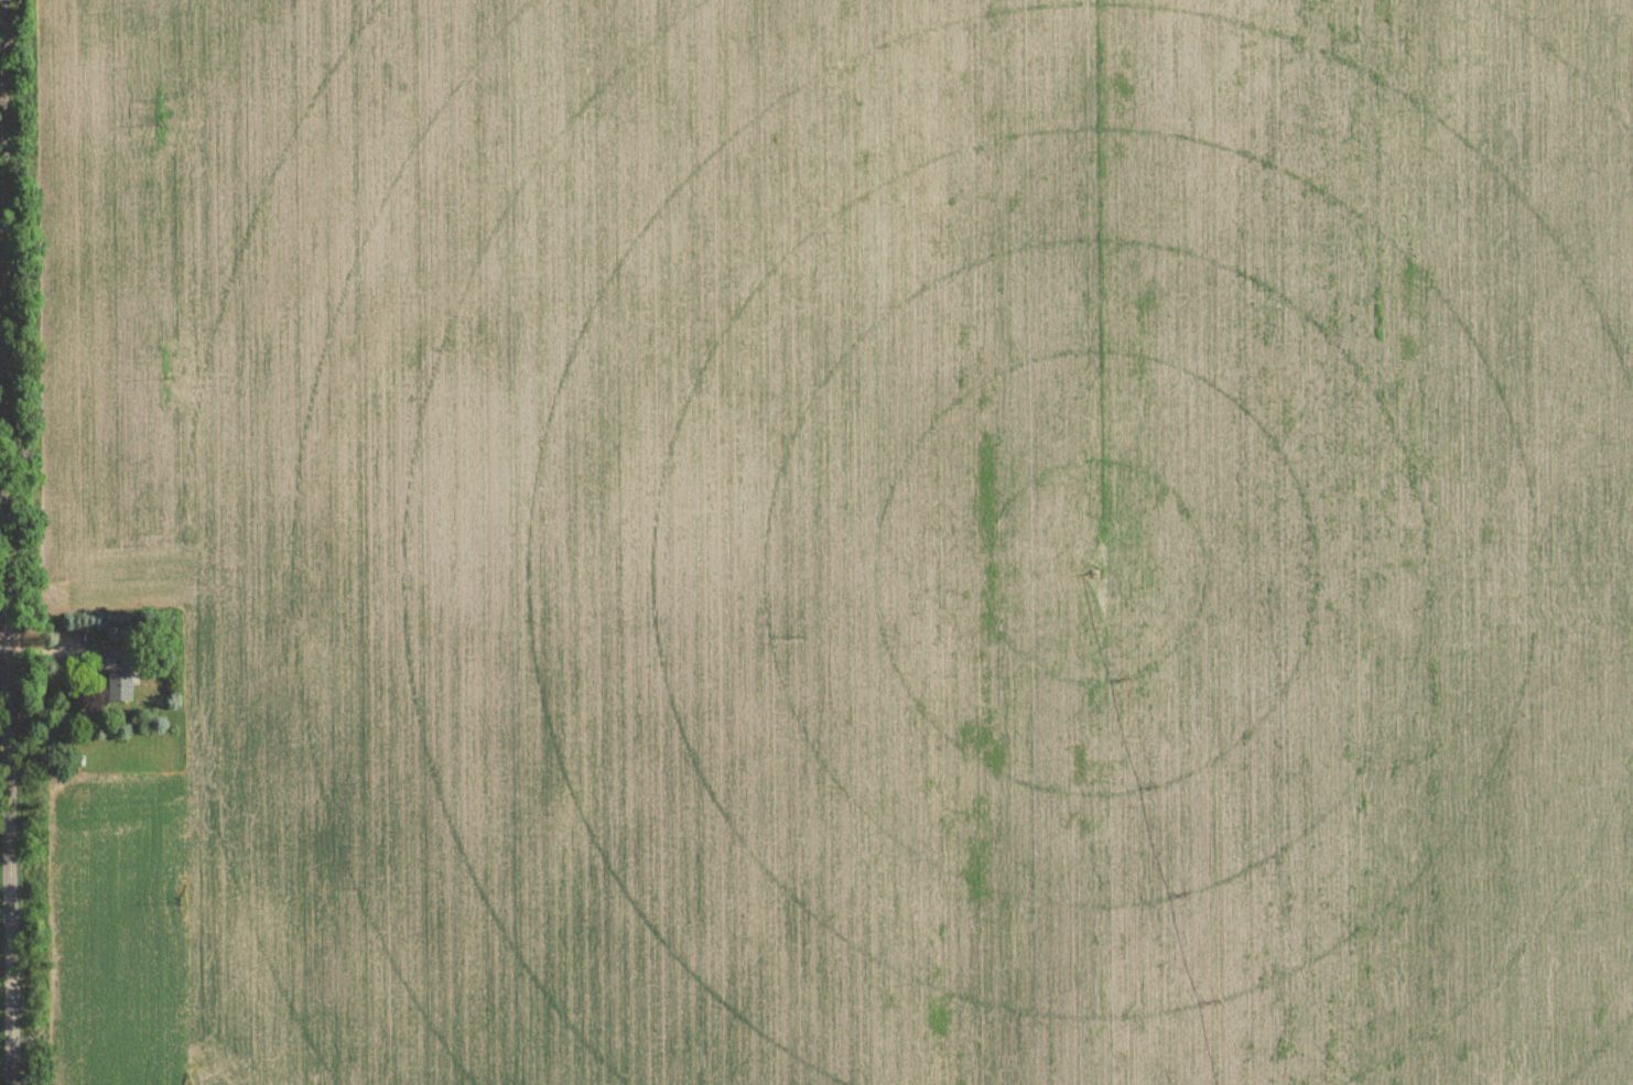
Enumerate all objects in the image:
road: (6, 645)
building: (118, 687)

